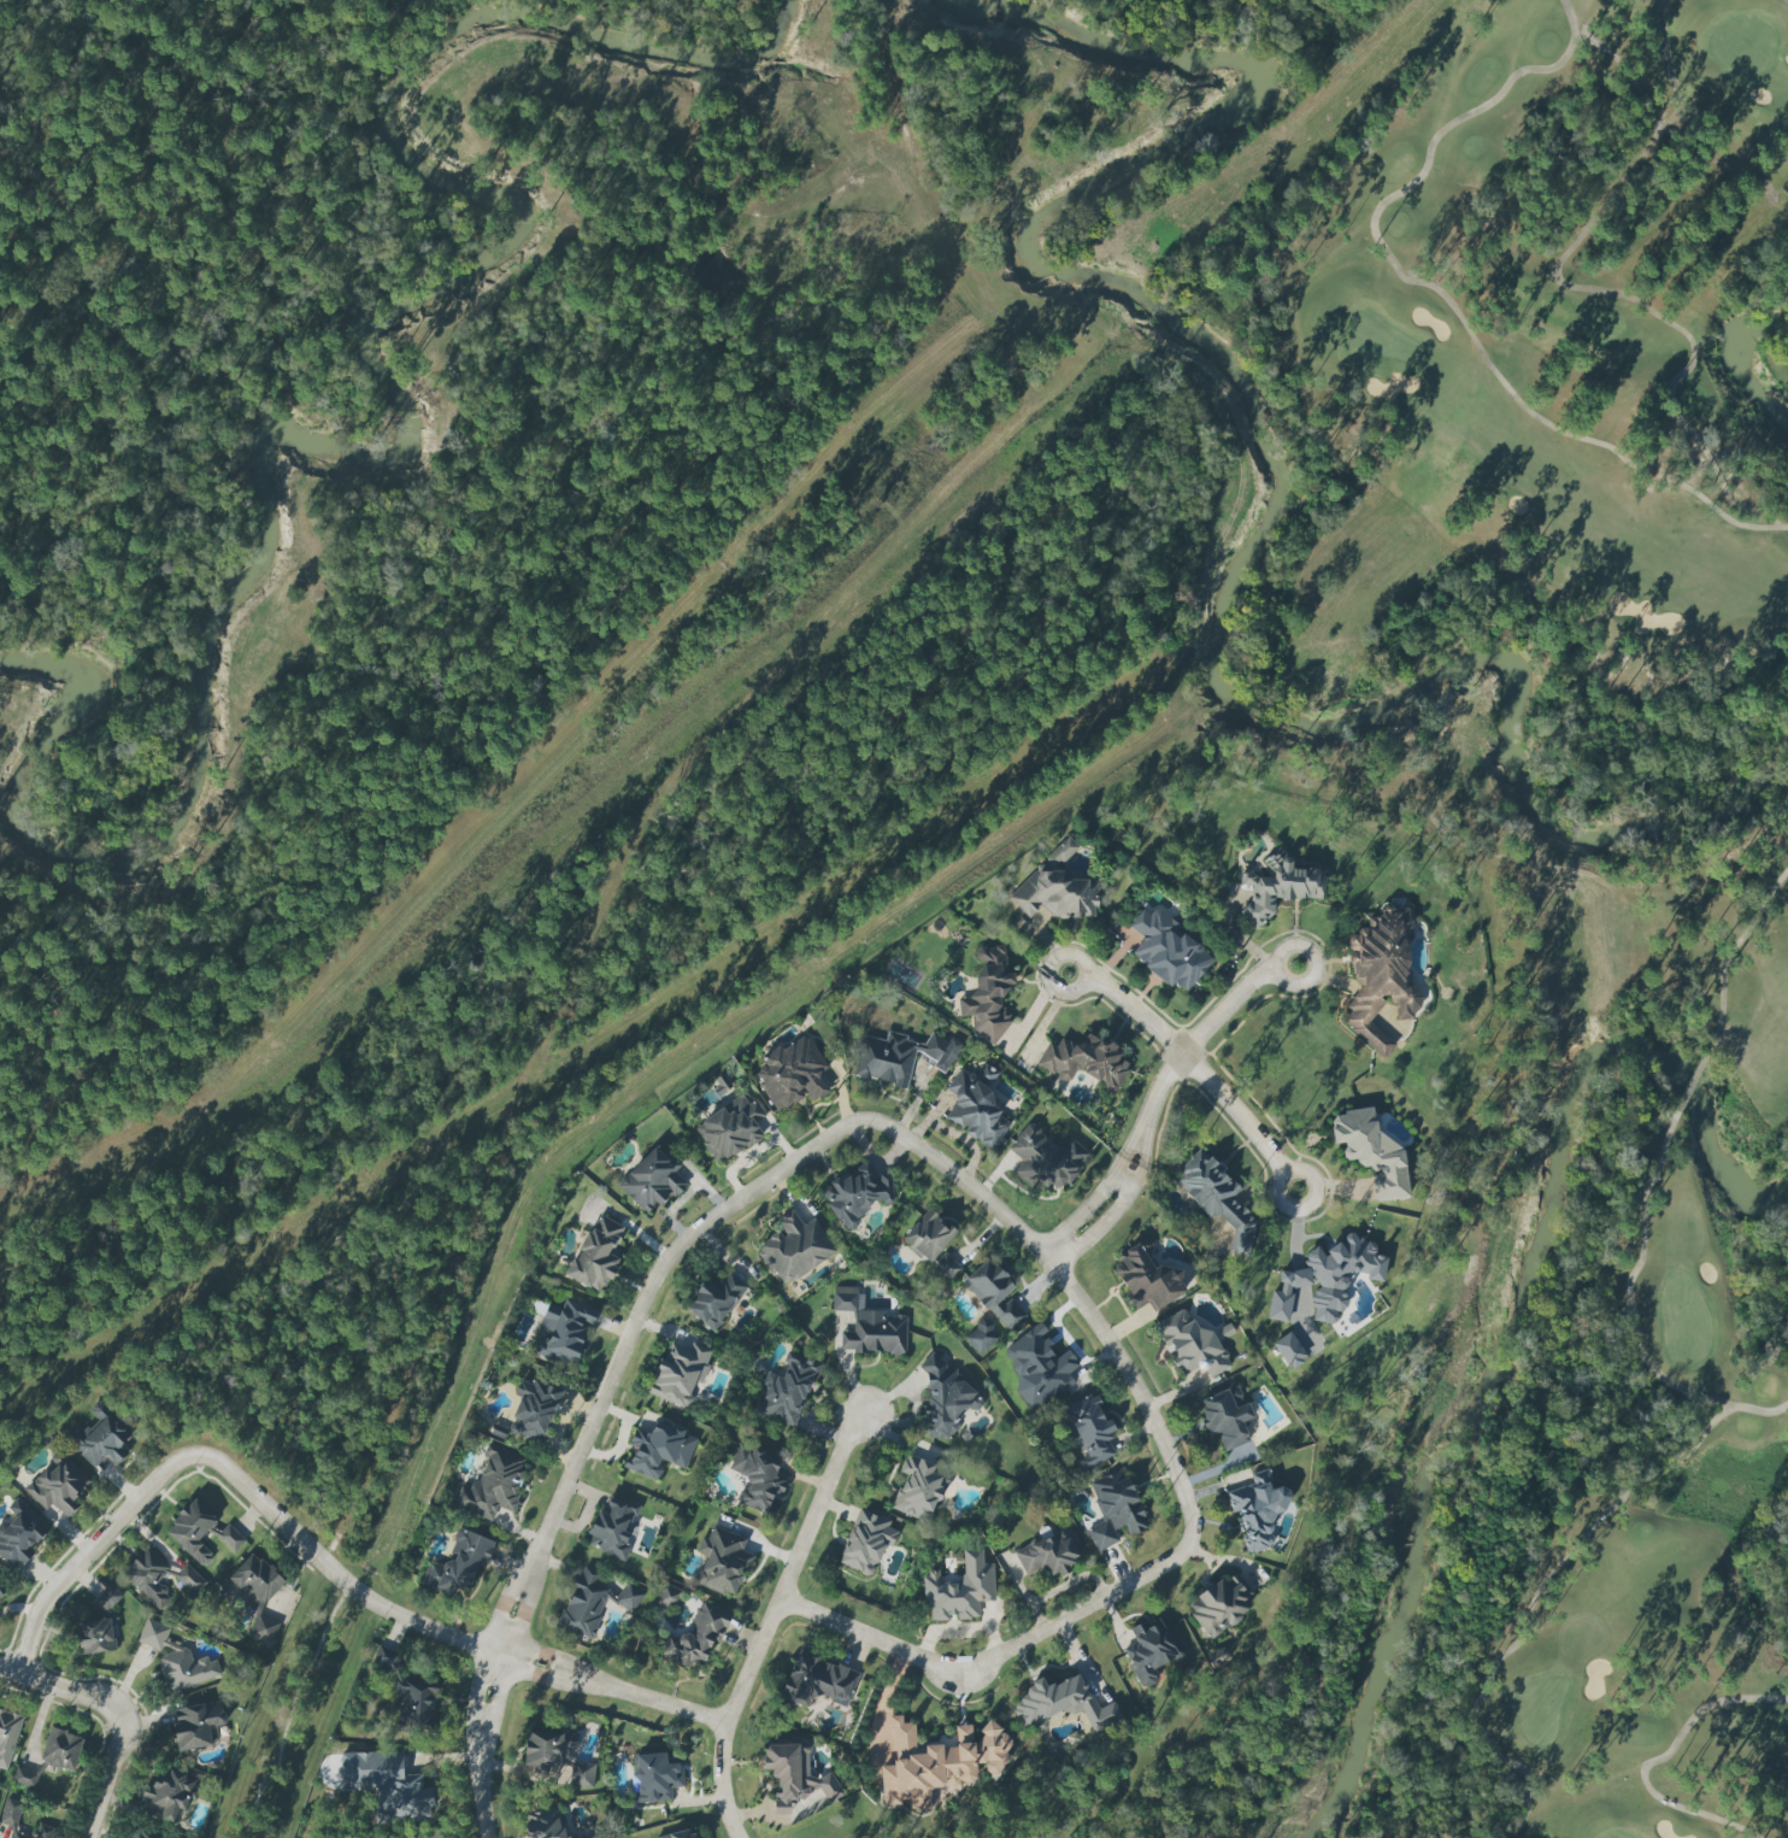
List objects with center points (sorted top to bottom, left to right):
river: (1737, 369)
river: (411, 447)
river: (1287, 485)
park: (1480, 773)
building: (1061, 851)
building: (1278, 888)
building: (1054, 893)
building: (1168, 950)
road: (1277, 951)
road: (1084, 986)
building: (1380, 986)
building: (988, 996)
road: (1223, 1008)
road: (1137, 1011)
building: (900, 1057)
building: (1084, 1061)
building: (790, 1074)
road: (1158, 1090)
building: (976, 1106)
road: (1233, 1112)
building: (730, 1128)
road: (1131, 1141)
road: (1142, 1147)
building: (1371, 1152)
building: (1045, 1159)
road: (1292, 1167)
building: (652, 1180)
road: (1118, 1188)
building: (855, 1194)
building: (1216, 1198)
road: (1083, 1208)
road: (1104, 1222)
building: (928, 1235)
building: (794, 1247)
building: (596, 1255)
building: (946, 1267)
building: (1146, 1279)
building: (1323, 1282)
road: (1066, 1284)
road: (647, 1287)
building: (994, 1293)
building: (714, 1300)
river: (1510, 1322)
building: (867, 1326)
building: (564, 1332)
building: (981, 1337)
building: (1190, 1345)
building: (1289, 1351)
building: (1037, 1366)
building: (680, 1373)
building: (787, 1390)
building: (945, 1398)
building: (535, 1408)
building: (1225, 1417)
building: (1088, 1429)
building: (99, 1438)
building: (658, 1449)
building: (757, 1478)
building: (57, 1485)
building: (493, 1485)
building: (918, 1488)
building: (1114, 1509)
building: (1255, 1513)
building: (613, 1527)
building: (200, 1532)
building: (19, 1533)
building: (865, 1542)
building: (1046, 1556)
road: (316, 1557)
building: (723, 1561)
building: (458, 1564)
road: (792, 1570)
building: (147, 1576)
building: (189, 1579)
building: (1, 1591)
building: (959, 1591)
road: (507, 1592)
building: (253, 1595)
building: (666, 1596)
building: (107, 1598)
road: (525, 1598)
building: (628, 1598)
building: (584, 1602)
building: (1218, 1609)
building: (94, 1636)
building: (696, 1637)
building: (1151, 1649)
road: (1005, 1655)
building: (176, 1658)
building: (817, 1681)
road: (59, 1687)
building: (407, 1693)
road: (476, 1697)
road: (496, 1701)
building: (1061, 1703)
road: (290, 1710)
building: (196, 1725)
building: (7, 1736)
building: (60, 1749)
building: (546, 1749)
building: (937, 1763)
road: (106, 1774)
building: (582, 1774)
building: (794, 1777)
building: (24, 1778)
building: (655, 1778)
road: (719, 1783)
building: (387, 1786)
road: (482, 1792)
building: (167, 1793)
building: (10, 1811)
building: (42, 1831)
building: (146, 1833)
building: (681, 1834)
building: (19, 1836)

